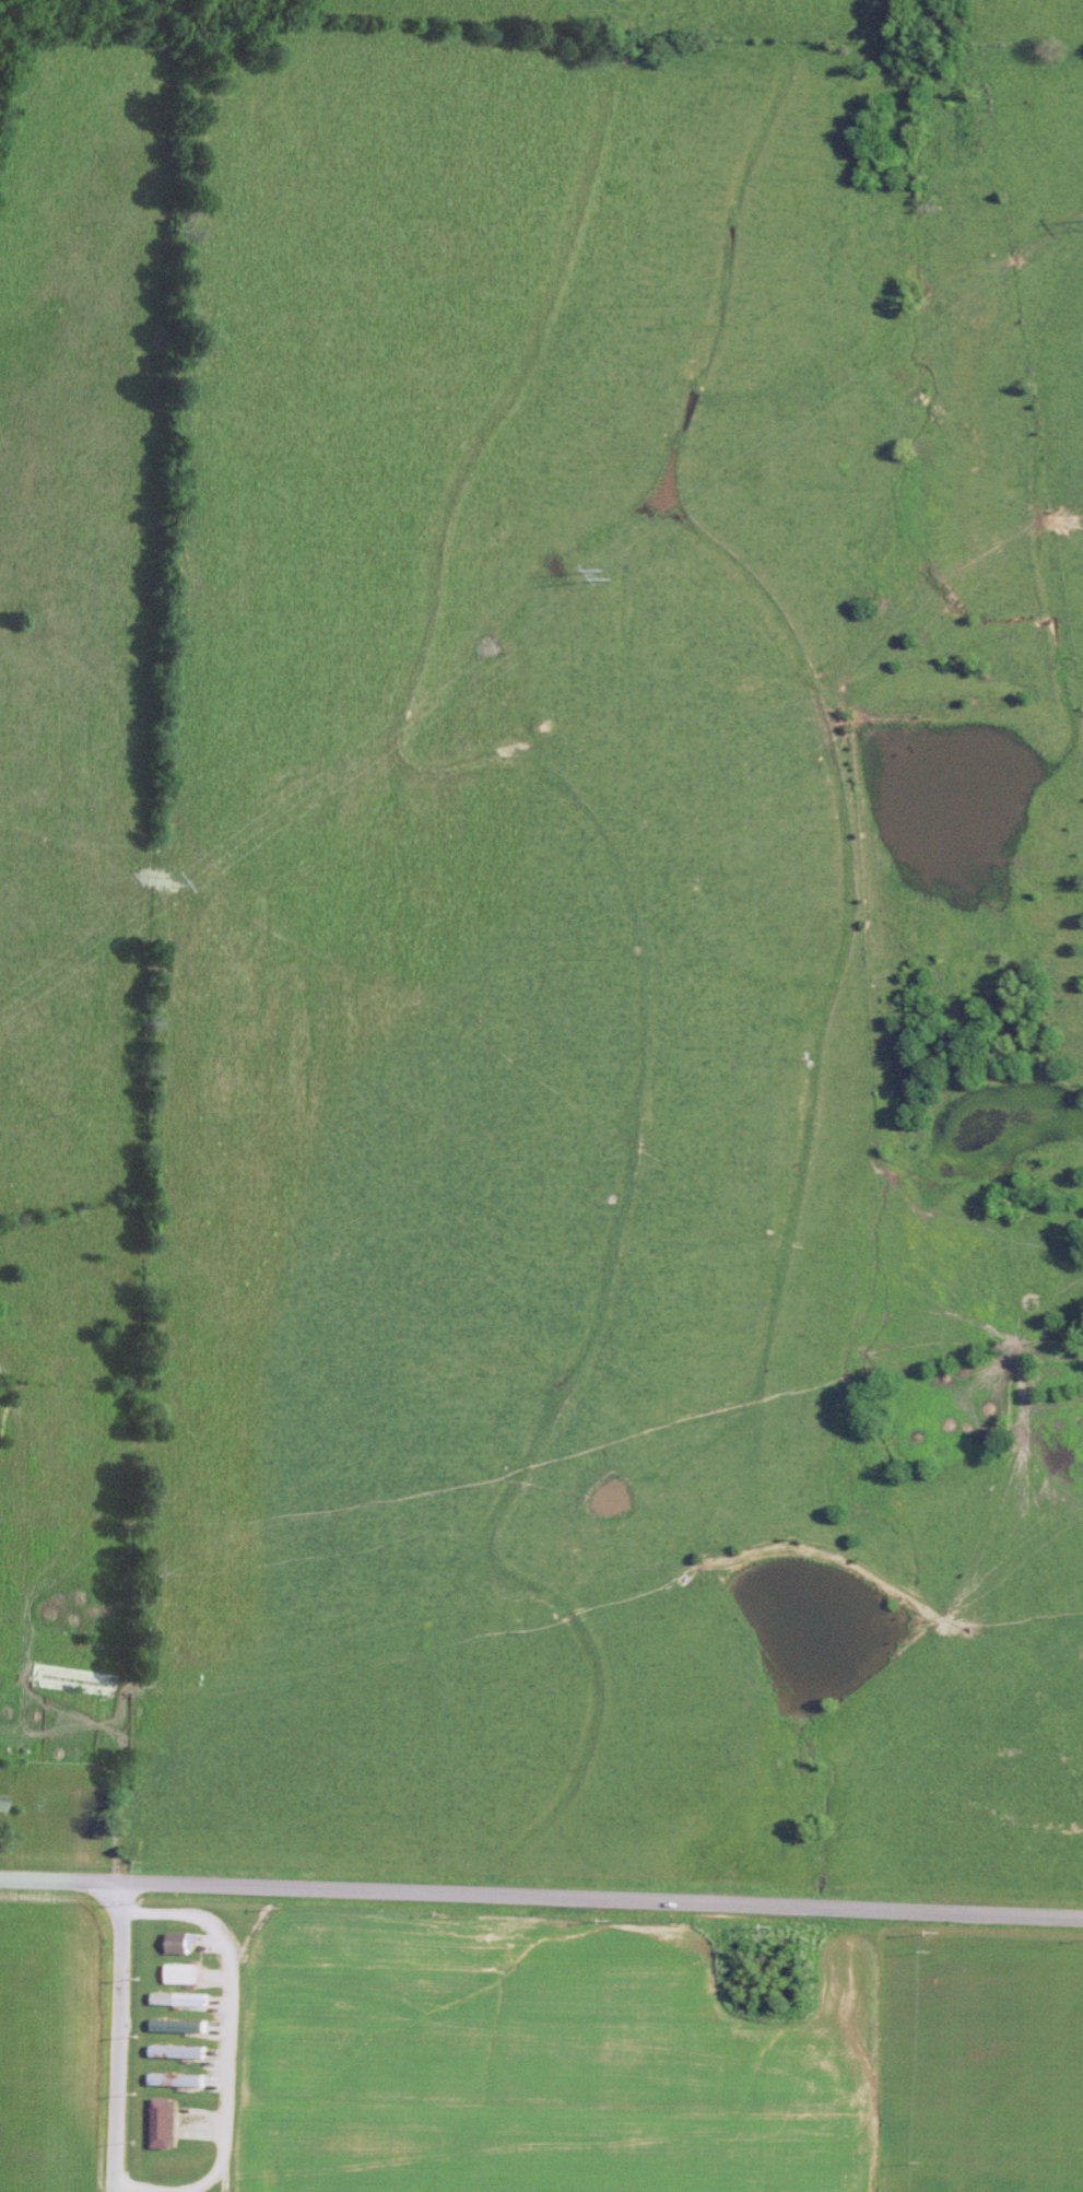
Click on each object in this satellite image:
building: (74, 1679)
building: (1, 1803)
road: (541, 1899)
building: (178, 1942)
building: (183, 1968)
building: (183, 1995)
building: (176, 2024)
road: (123, 2038)
building: (173, 2050)
road: (232, 2052)
building: (164, 2122)

